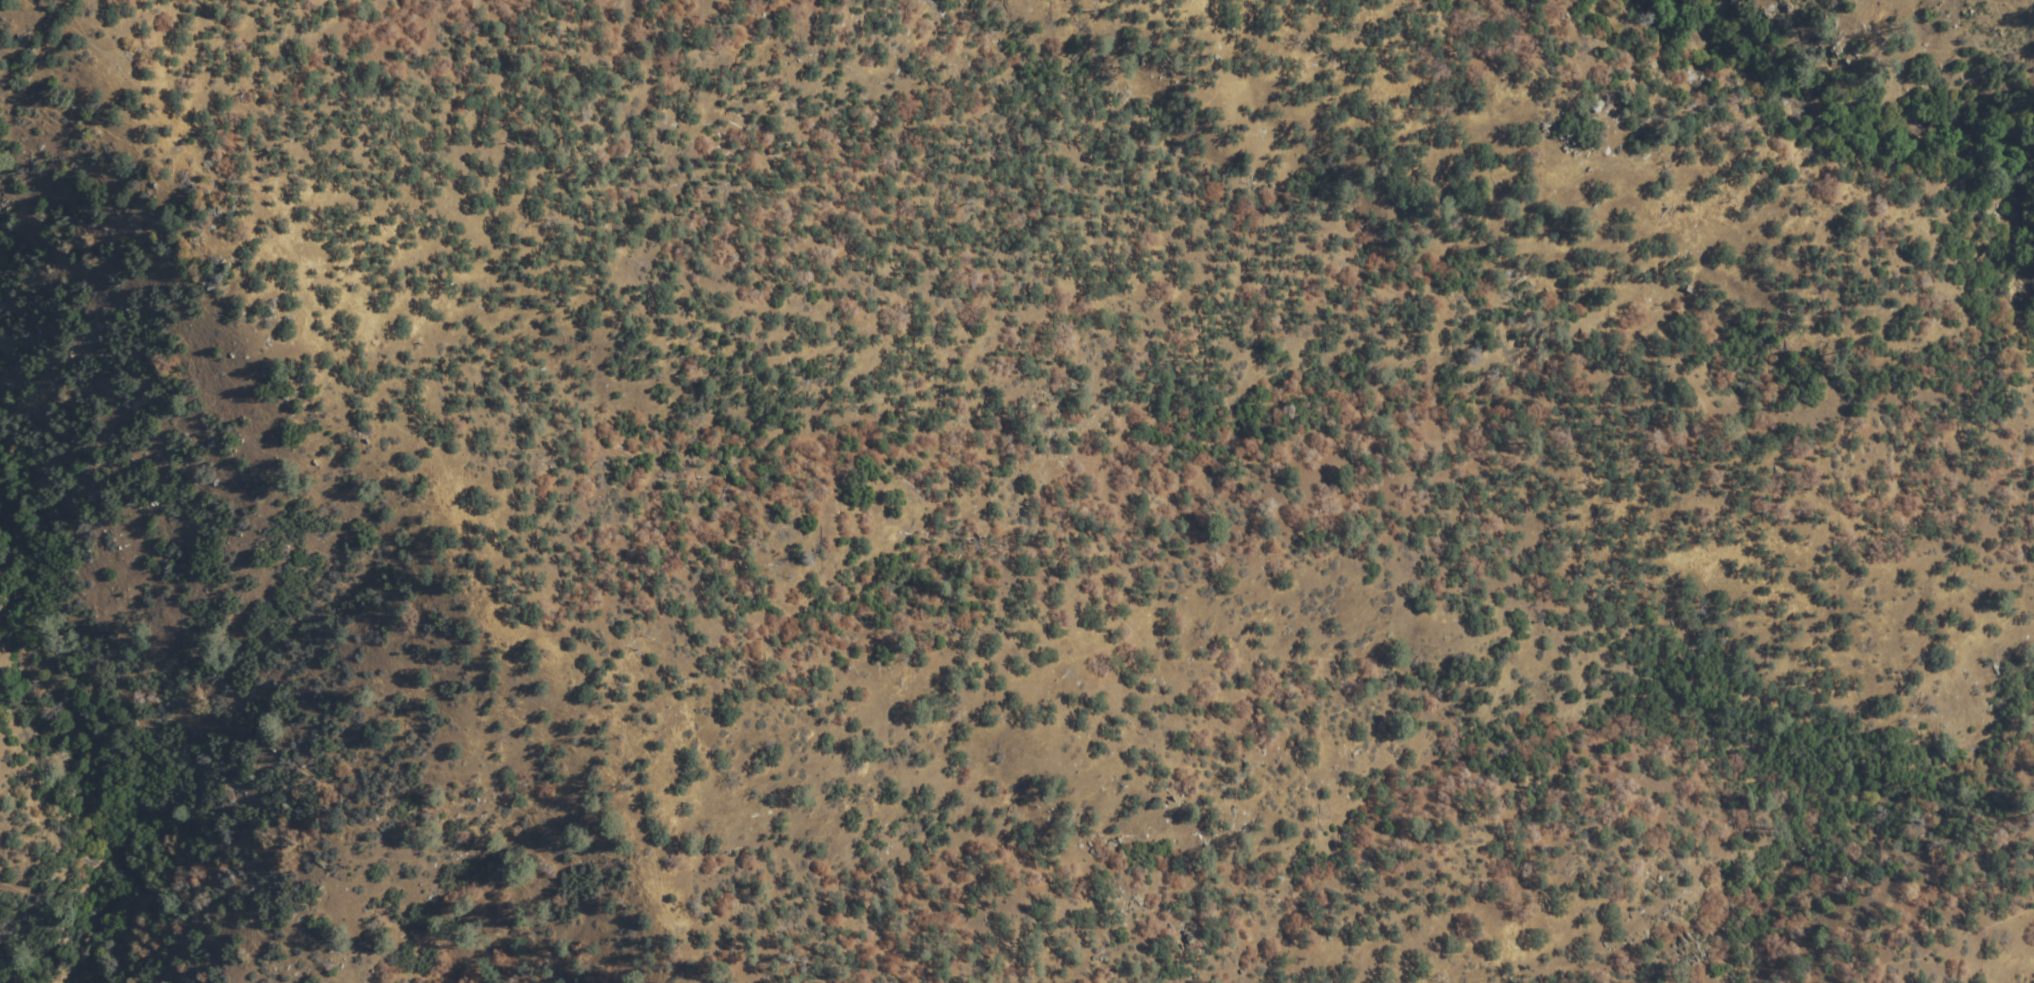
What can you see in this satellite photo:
road: (92, 42)

